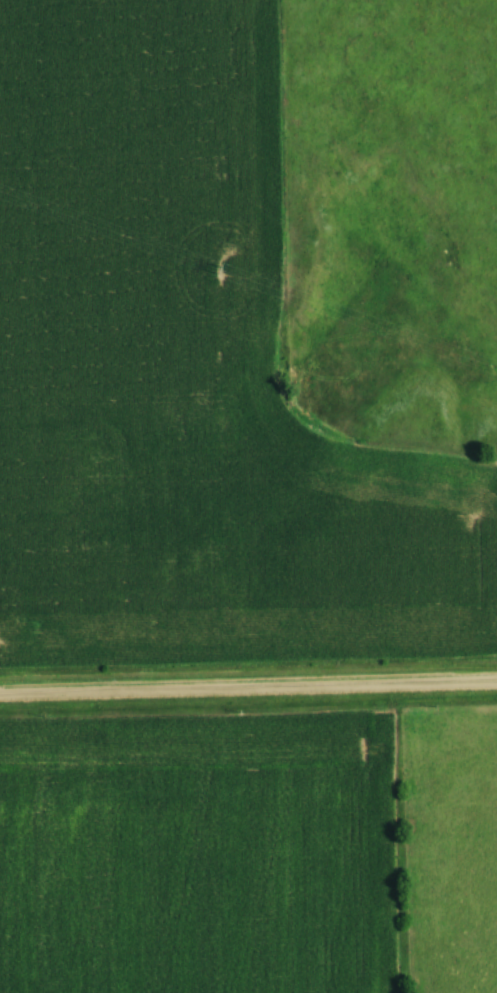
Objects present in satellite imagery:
road: (248, 687)

